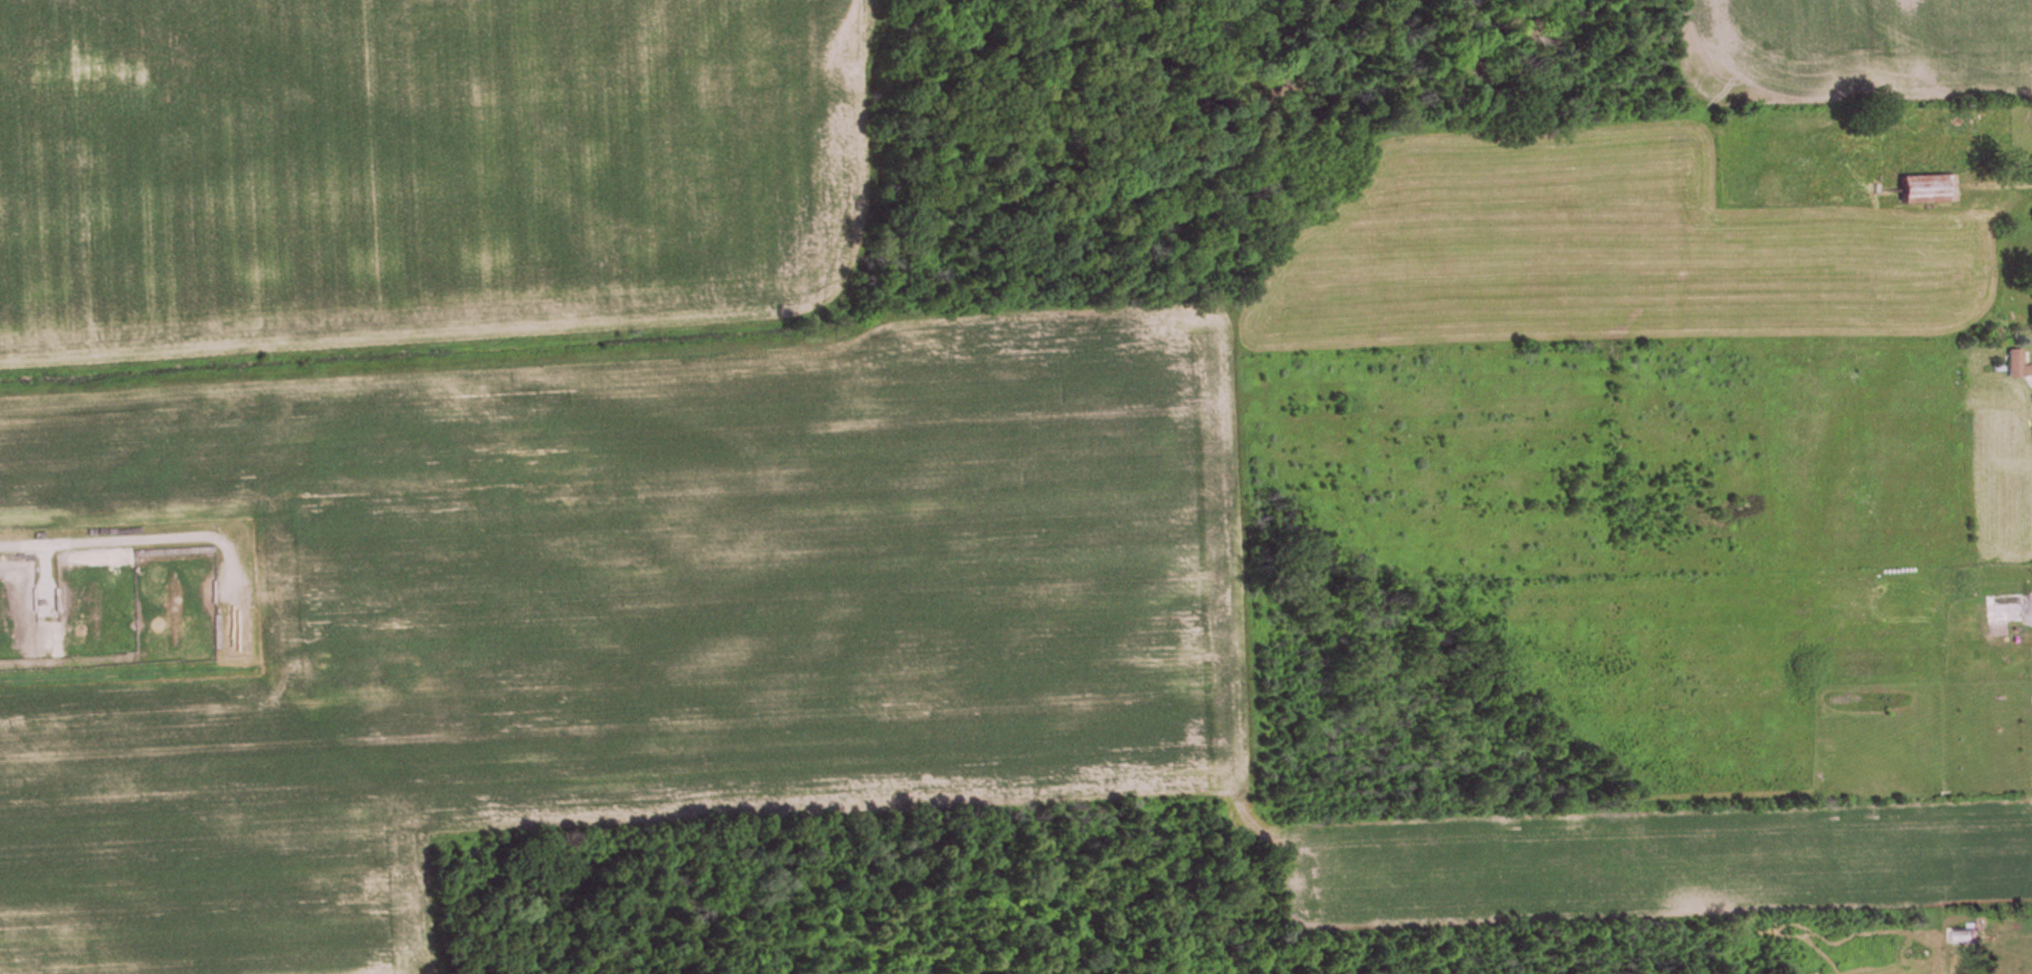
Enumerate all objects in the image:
building: (1927, 191)
building: (2018, 367)
road: (149, 527)
building: (2004, 611)
building: (1967, 939)

